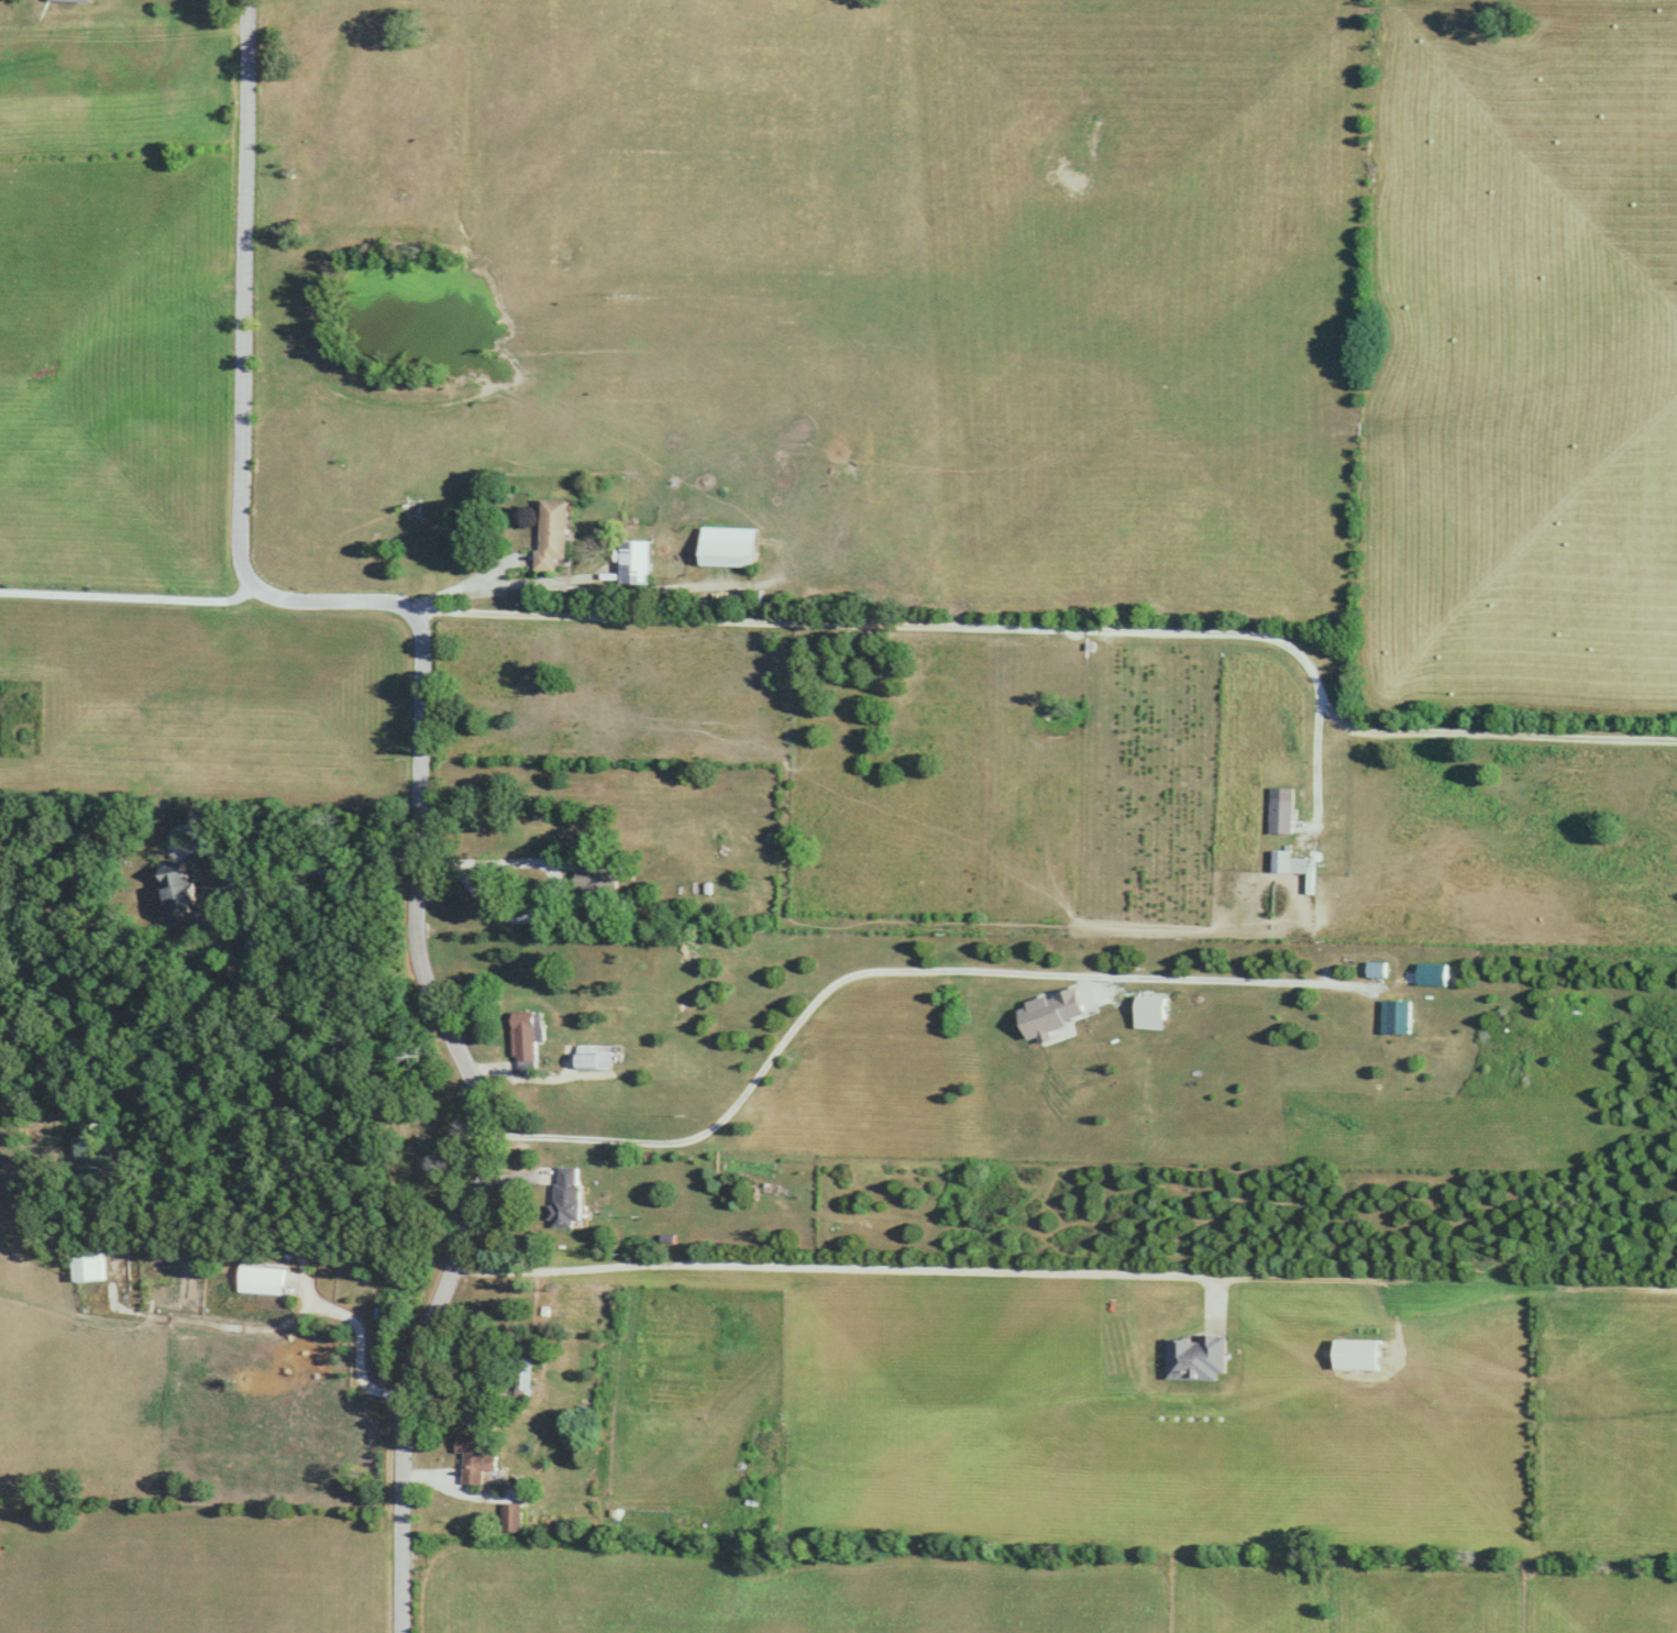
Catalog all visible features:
road: (236, 385)
building: (413, 505)
building: (553, 532)
building: (729, 547)
building: (636, 561)
road: (126, 595)
road: (1073, 632)
road: (1311, 744)
building: (1281, 815)
building: (1288, 862)
road: (285, 869)
building: (599, 879)
road: (555, 882)
building: (183, 886)
building: (263, 945)
road: (892, 968)
building: (1377, 969)
building: (526, 1036)
building: (596, 1057)
road: (484, 1123)
park: (420, 1128)
building: (566, 1196)
road: (834, 1265)
building: (88, 1266)
building: (267, 1282)
road: (357, 1346)
building: (1355, 1354)
building: (1195, 1357)
building: (525, 1376)
building: (478, 1456)
building: (515, 1516)

